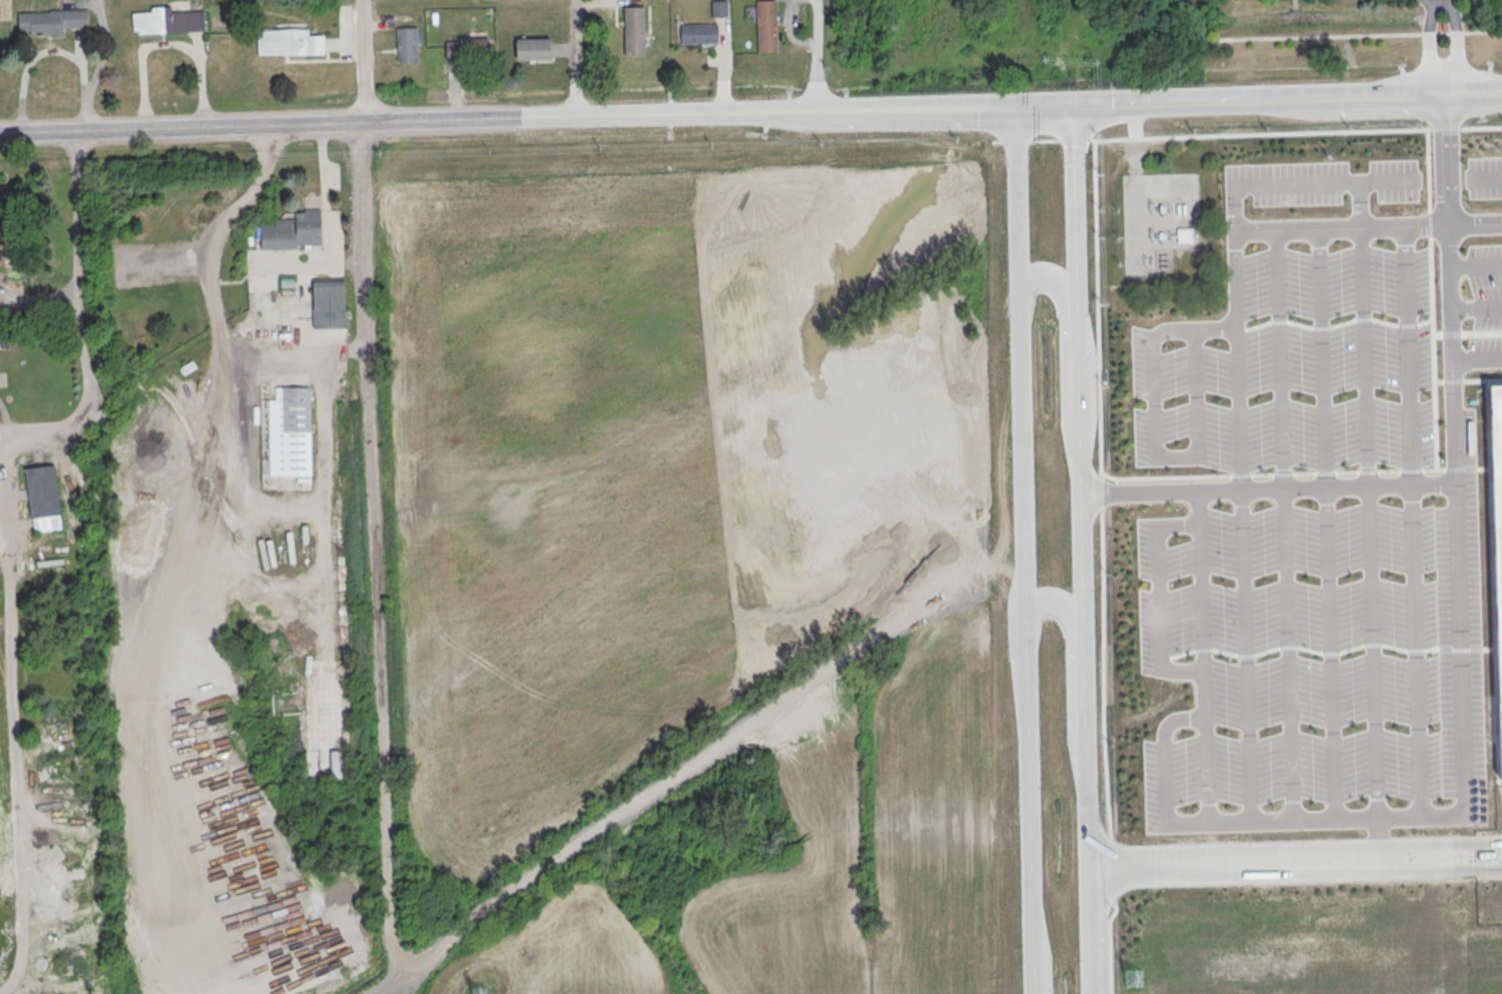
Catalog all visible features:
building: (718, 8)
building: (167, 20)
building: (51, 21)
building: (766, 25)
building: (633, 30)
building: (698, 32)
road: (1456, 35)
road: (1429, 37)
building: (287, 42)
building: (407, 44)
road: (169, 45)
building: (532, 48)
building: (466, 49)
road: (37, 54)
road: (814, 54)
road: (574, 58)
road: (361, 61)
road: (98, 66)
road: (1445, 79)
road: (1297, 94)
road: (1053, 101)
traffic signals: (1093, 101)
traffic signals: (1014, 103)
road: (506, 118)
road: (1134, 136)
road: (1492, 185)
road: (1314, 191)
road: (1374, 213)
road: (1135, 220)
road: (224, 221)
power substation: (1159, 224)
building: (294, 231)
building: (1183, 235)
road: (1373, 237)
building: (2, 238)
road: (365, 263)
road: (1480, 275)
road: (38, 297)
building: (328, 303)
road: (77, 318)
road: (1481, 319)
road: (1228, 333)
road: (218, 348)
road: (244, 362)
road: (1482, 368)
road: (324, 377)
building: (42, 379)
road: (1207, 402)
road: (1162, 404)
building: (289, 431)
road: (234, 484)
road: (1160, 496)
road: (1337, 496)
building: (43, 497)
road: (1423, 529)
road: (1338, 530)
road: (1381, 530)
road: (1299, 532)
road: (1255, 533)
road: (1081, 547)
road: (1023, 548)
road: (255, 581)
road: (1469, 606)
road: (1171, 608)
road: (1213, 608)
road: (1070, 669)
road: (381, 692)
building: (281, 703)
road: (1216, 705)
road: (13, 761)
road: (1176, 761)
road: (692, 770)
road: (1217, 777)
road: (1390, 842)
road: (1295, 863)
power tower: (1132, 976)
road: (384, 988)
road: (392, 988)
power tower: (477, 993)

